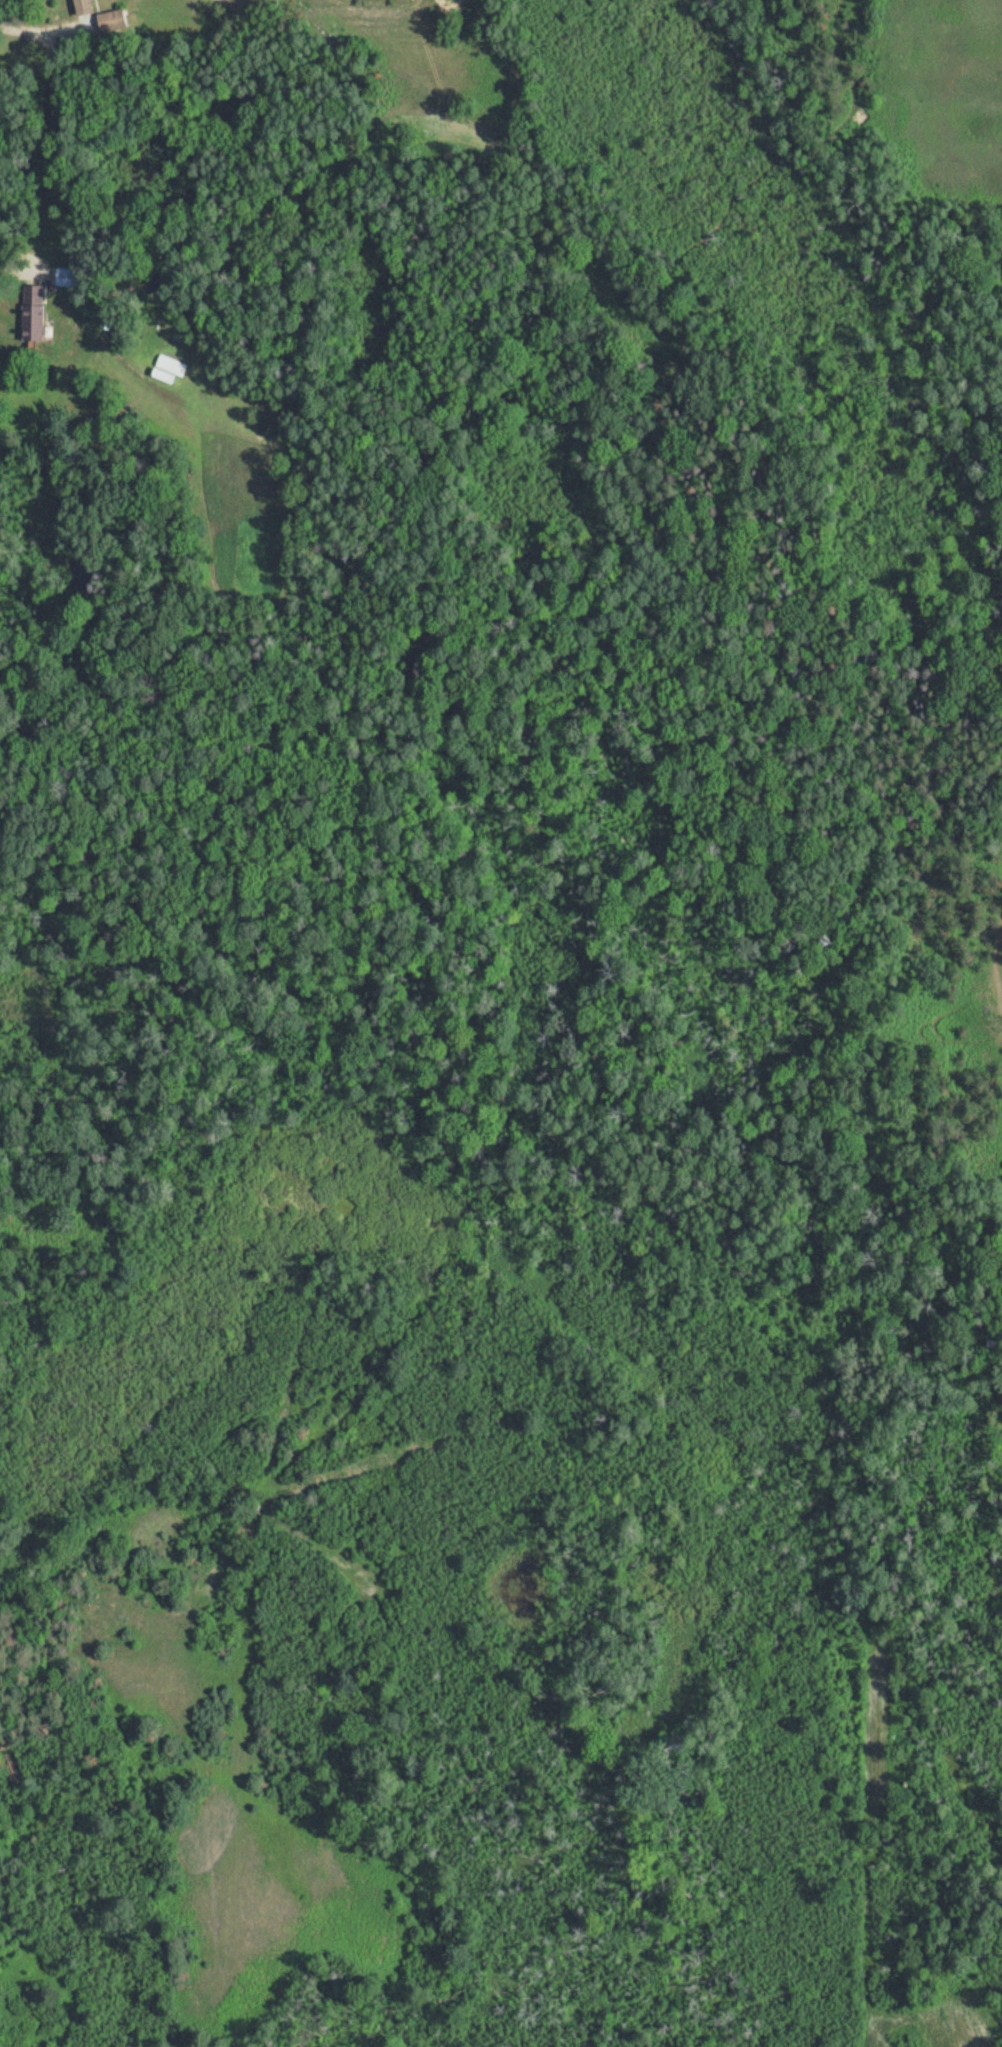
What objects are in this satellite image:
building: (109, 22)
building: (29, 314)
building: (168, 365)

